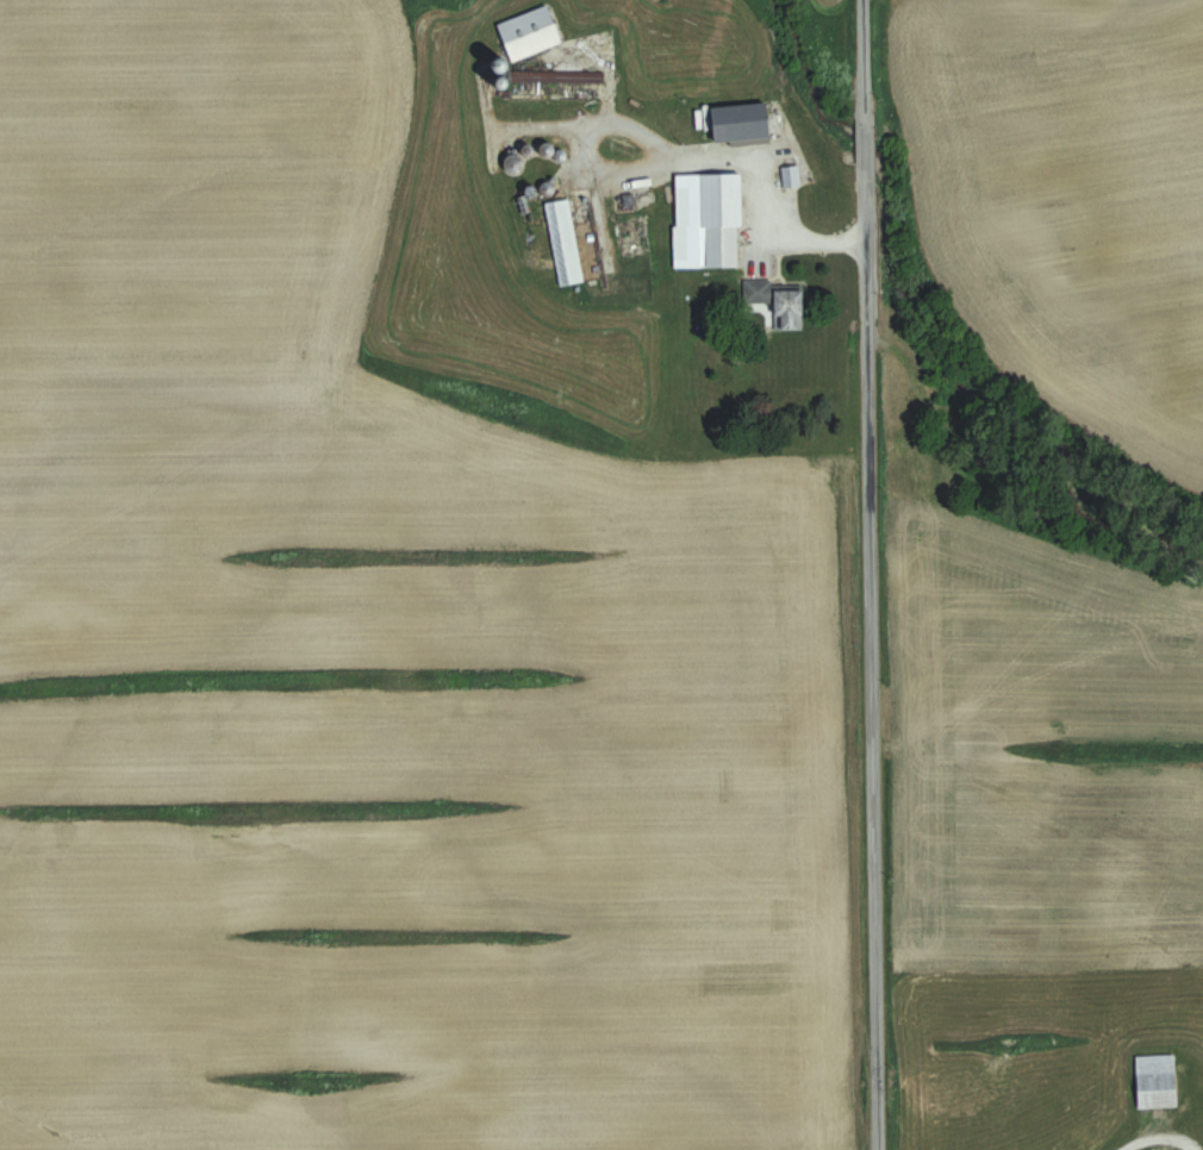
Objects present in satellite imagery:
building: (531, 32)
road: (856, 63)
building: (746, 123)
road: (858, 150)
building: (822, 169)
road: (605, 174)
building: (709, 219)
road: (748, 227)
building: (566, 243)
building: (791, 311)
road: (873, 662)
building: (1159, 1081)
road: (1152, 1127)

